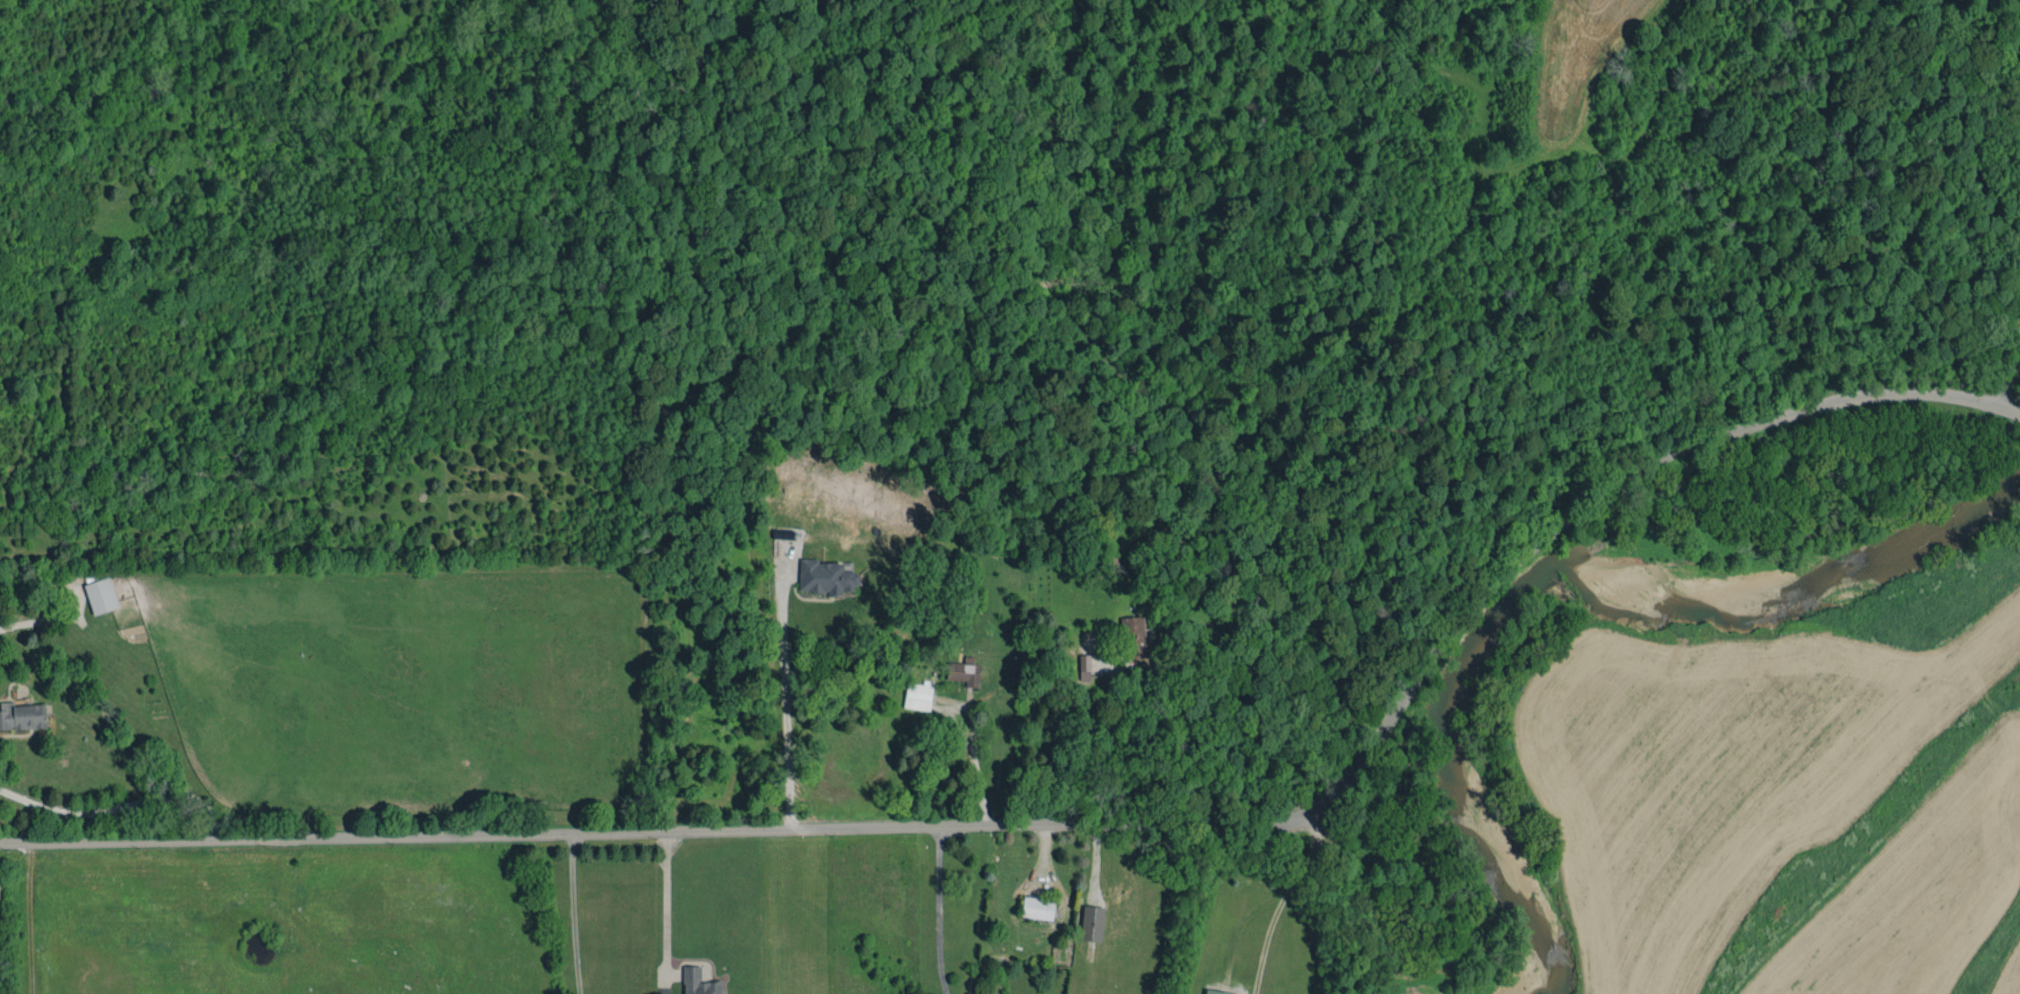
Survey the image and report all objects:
road: (2019, 10)
road: (2011, 379)
building: (825, 577)
building: (101, 595)
river: (1569, 607)
building: (1084, 667)
building: (964, 672)
building: (918, 695)
road: (784, 701)
building: (22, 716)
road: (1182, 729)
road: (970, 732)
road: (119, 808)
road: (1094, 827)
building: (1037, 908)
road: (938, 911)
road: (665, 913)
road: (573, 914)
road: (28, 920)
building: (1092, 923)
building: (698, 982)
building: (1215, 992)

